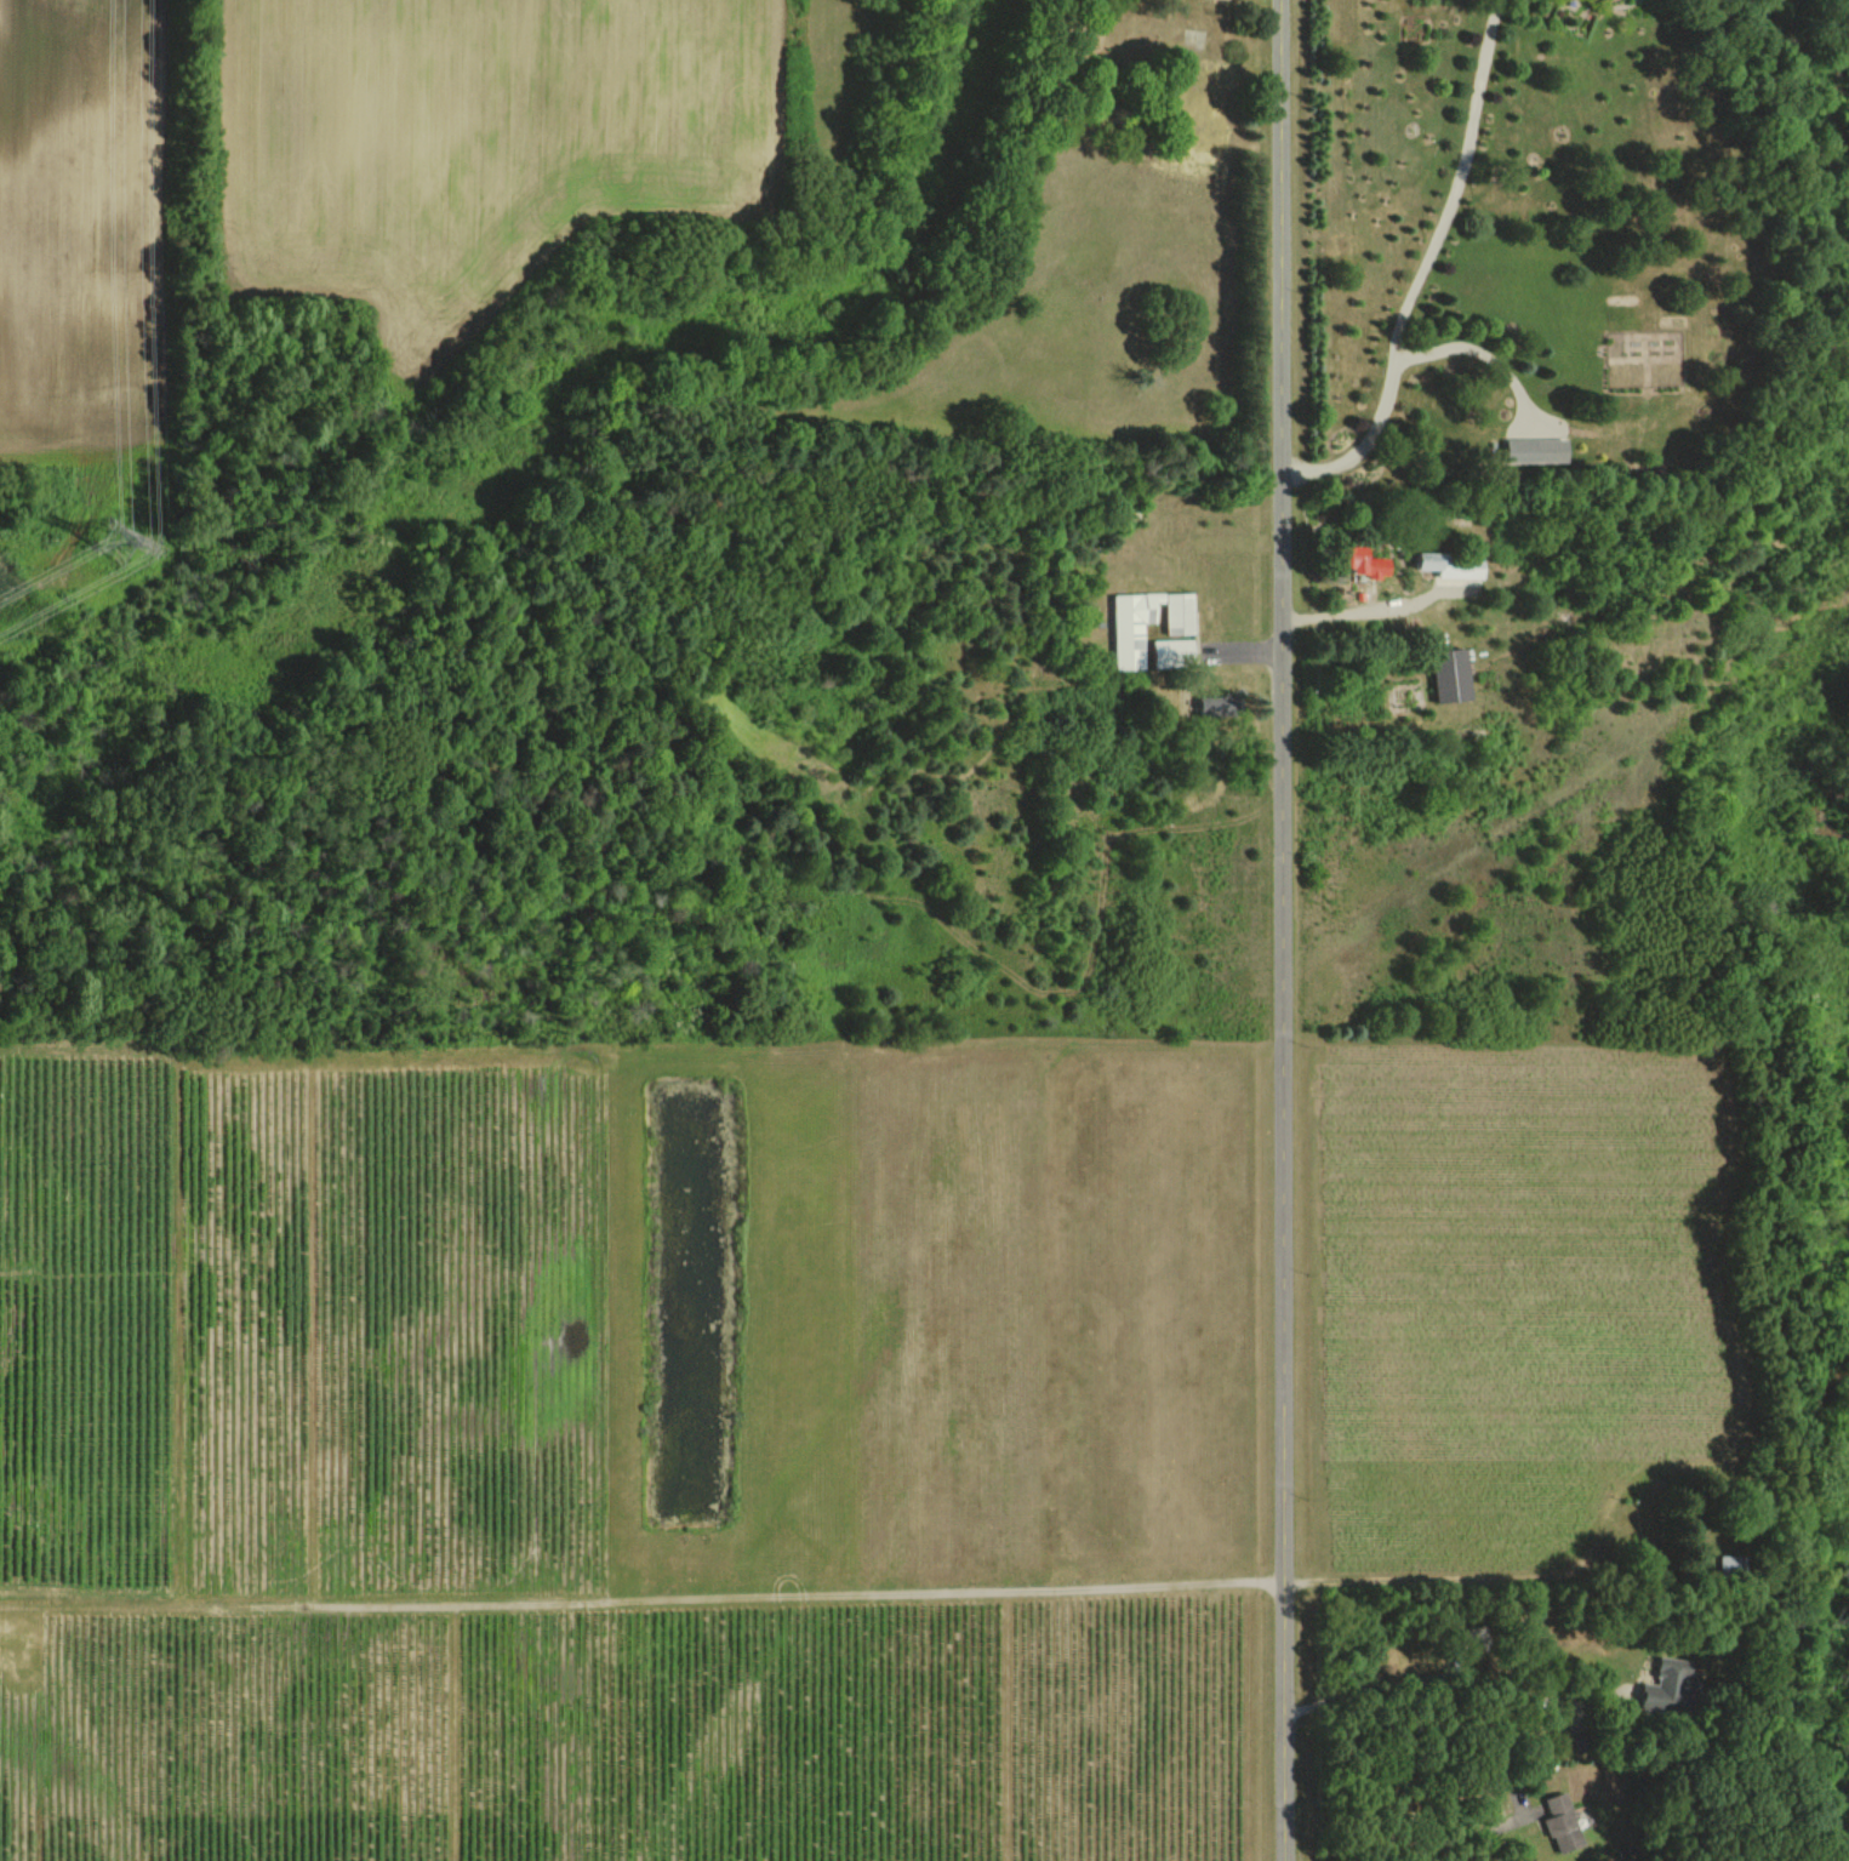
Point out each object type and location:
road: (1420, 266)
road: (1480, 347)
building: (1539, 449)
power tower: (107, 548)
building: (1369, 563)
building: (1455, 564)
road: (1360, 612)
building: (1129, 627)
road: (1244, 650)
building: (1174, 652)
building: (1453, 675)
building: (1219, 704)
road: (1282, 930)
road: (1488, 1581)
road: (1448, 1672)
building: (1668, 1686)
building: (1562, 1821)
road: (1456, 1838)

